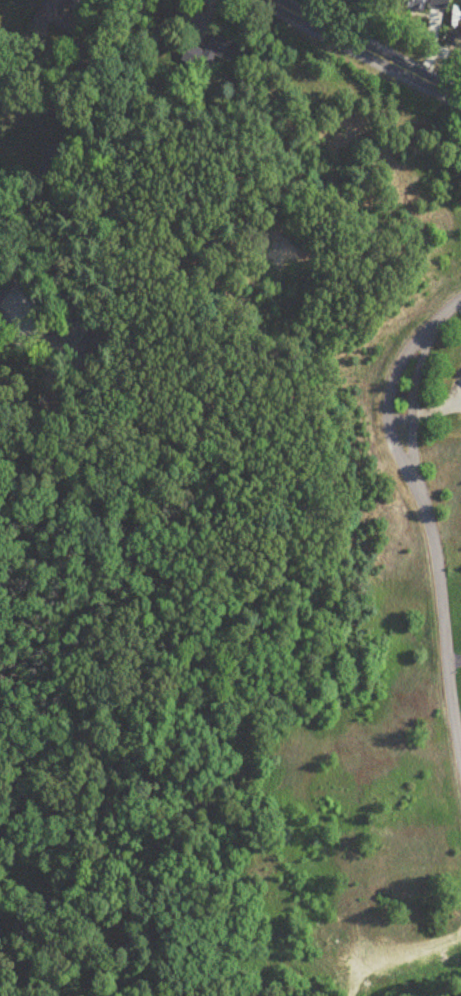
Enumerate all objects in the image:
road: (282, 4)
building: (424, 4)
building: (55, 18)
road: (363, 50)
building: (212, 51)
road: (42, 106)
road: (63, 141)
building: (5, 290)
road: (428, 522)

